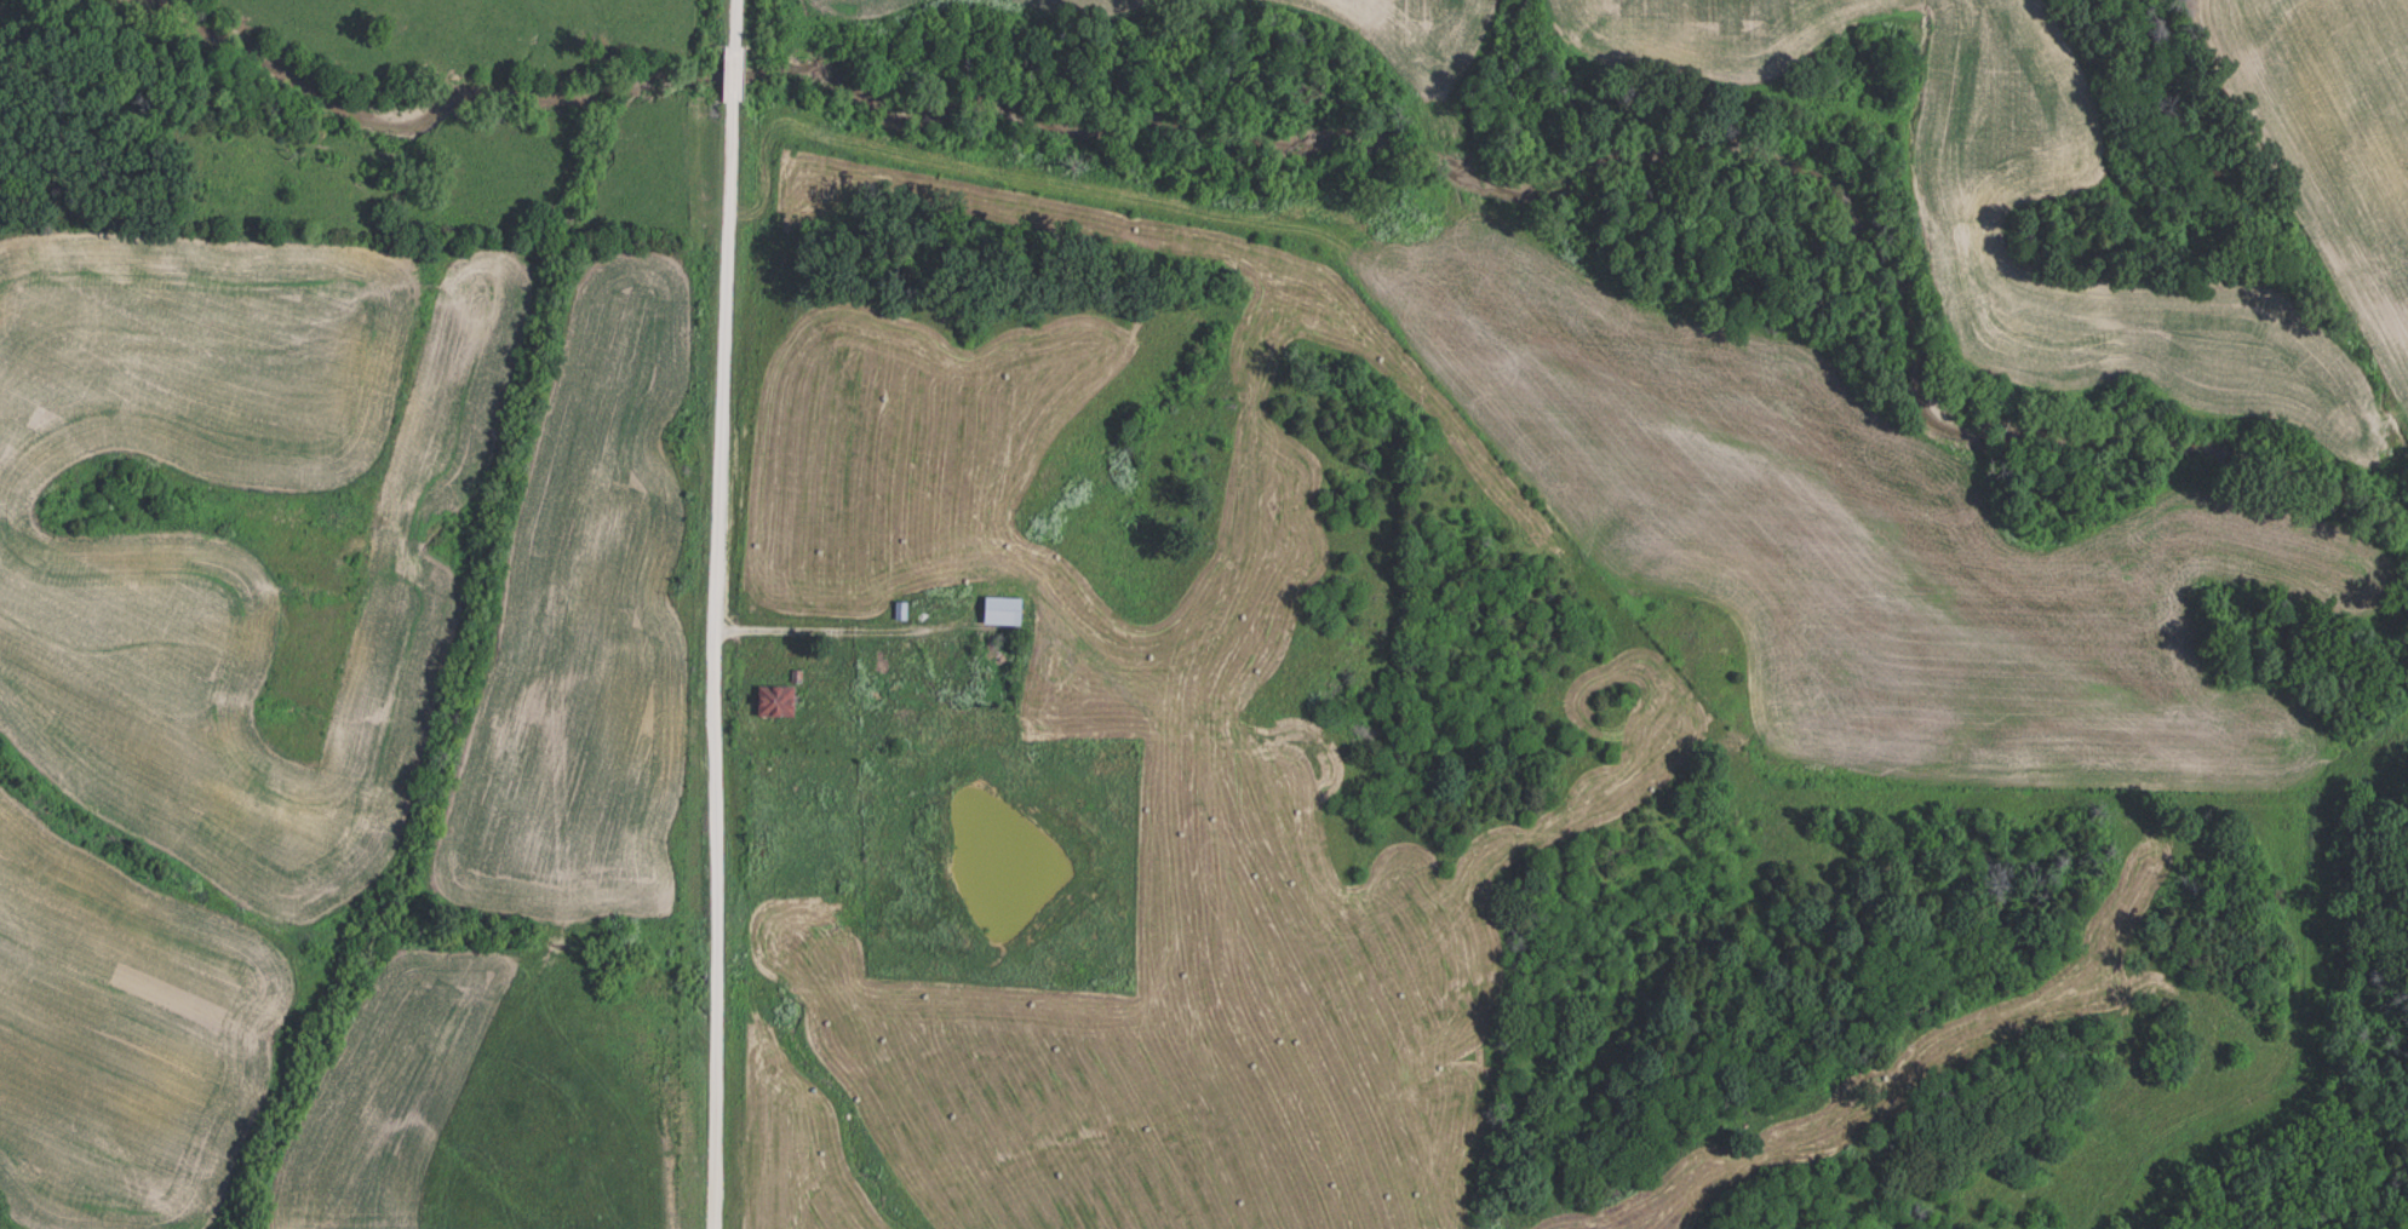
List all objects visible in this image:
road: (738, 22)
road: (735, 73)
building: (1005, 610)
road: (716, 664)
building: (778, 701)

